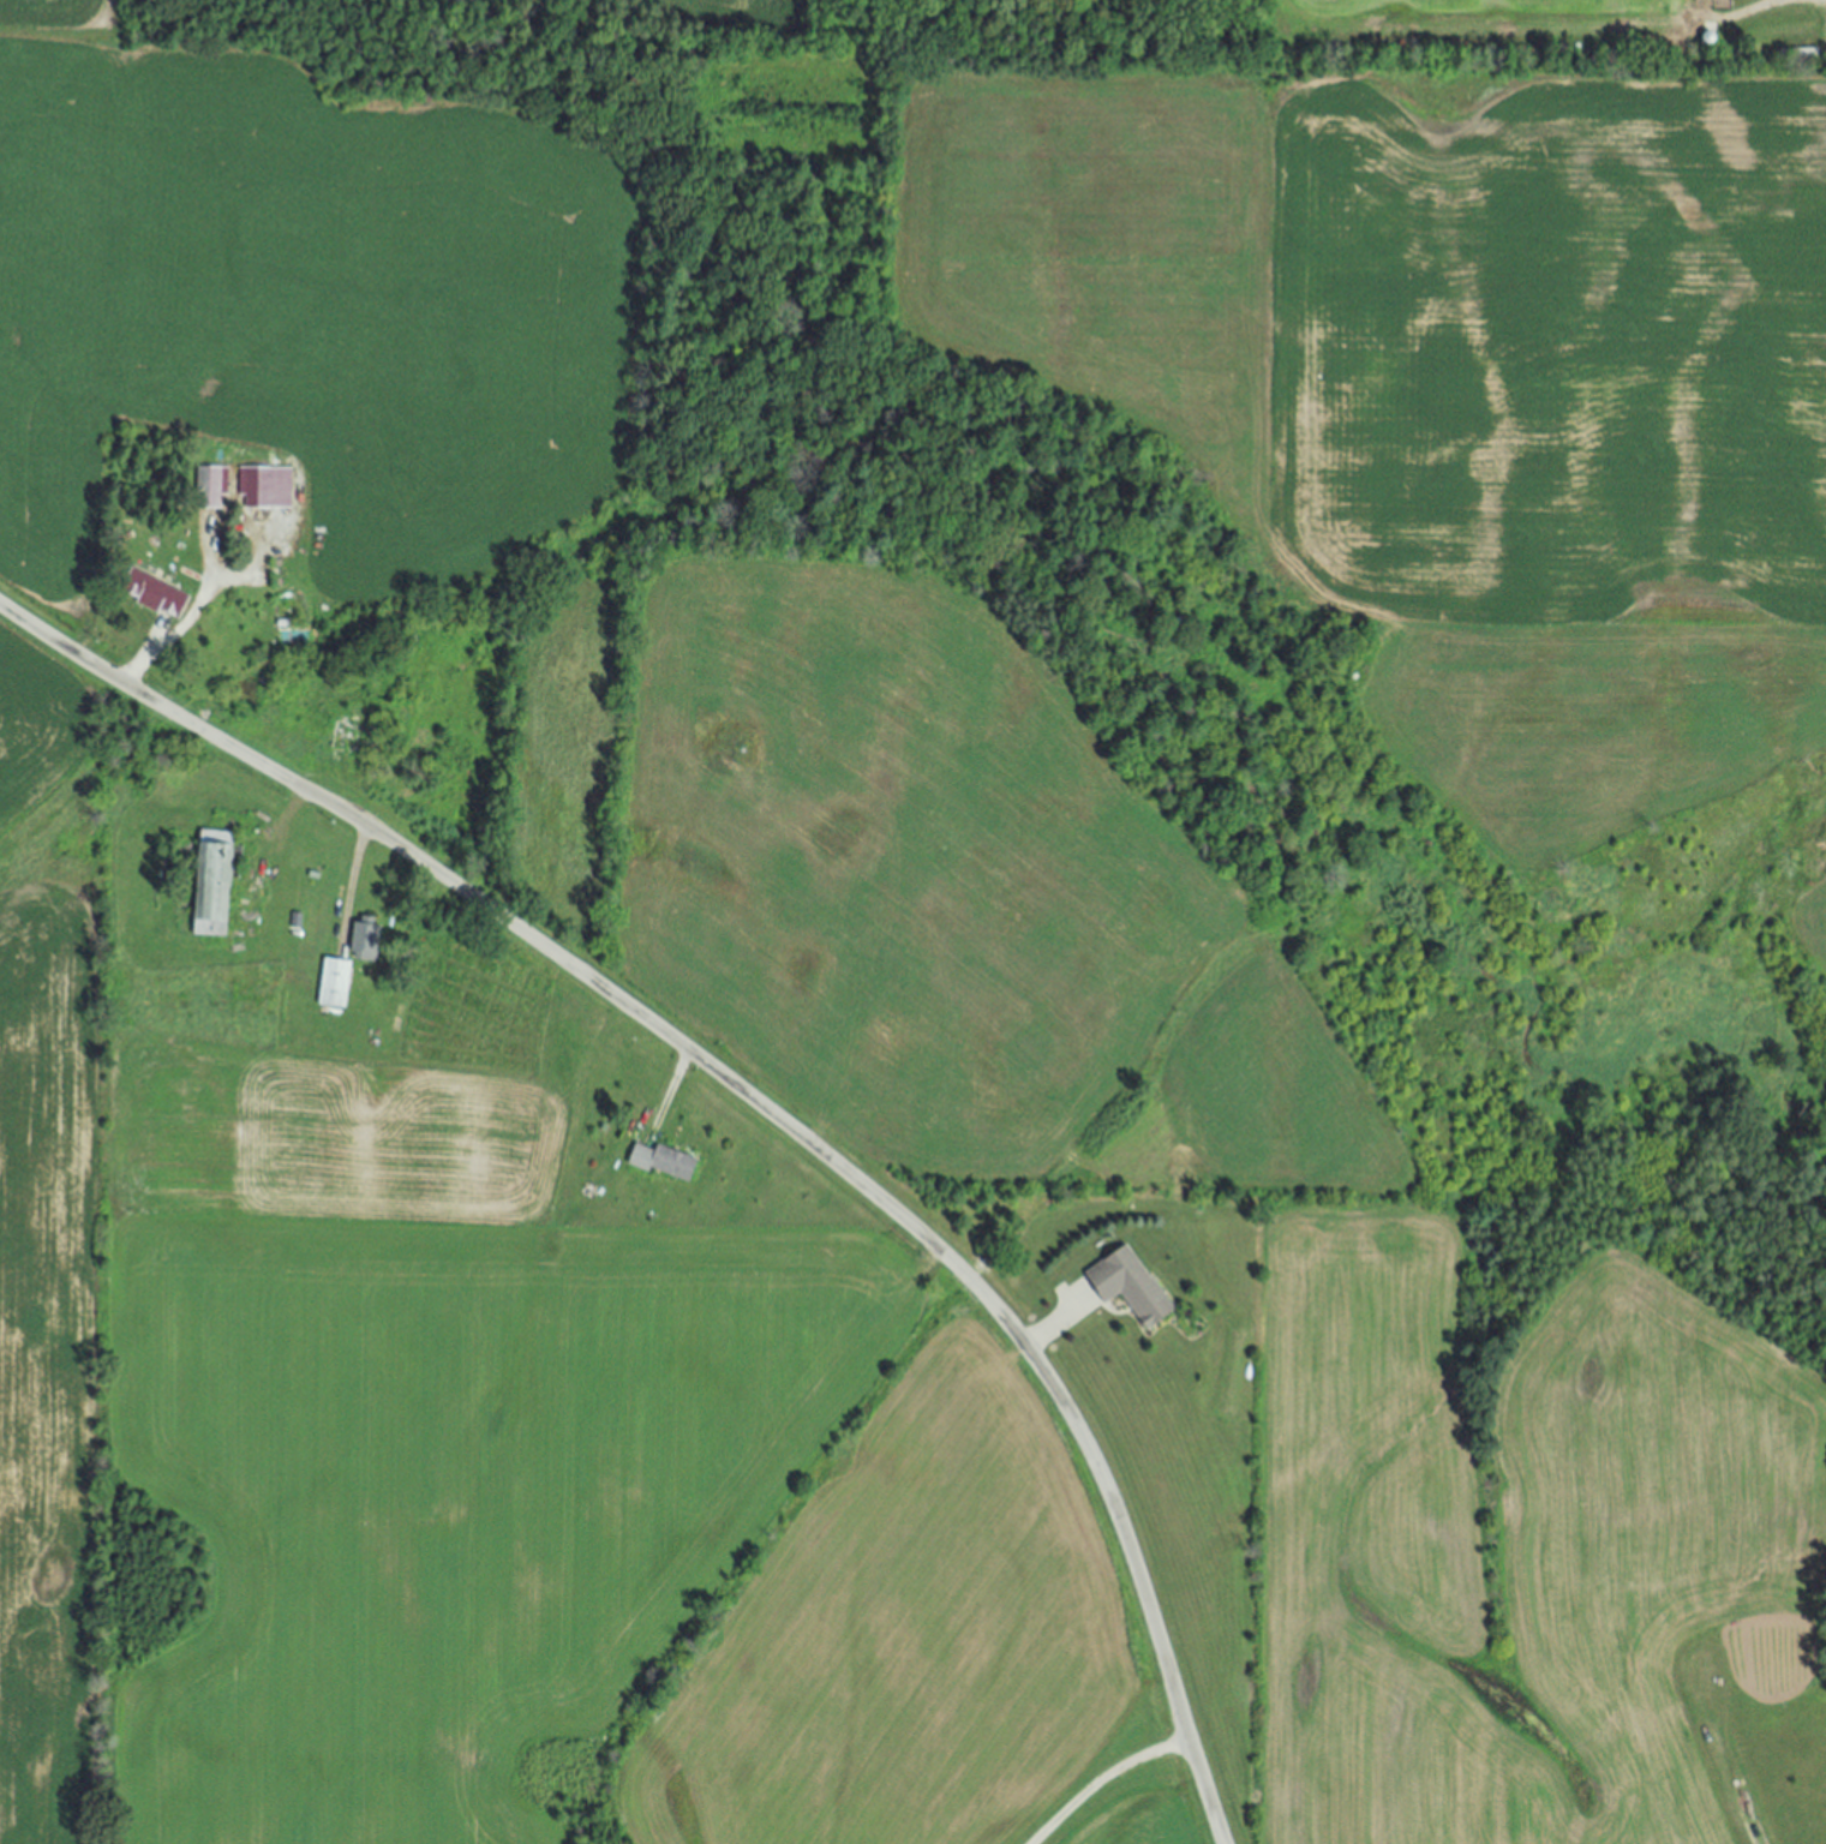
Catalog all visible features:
building: (208, 489)
building: (257, 490)
building: (155, 597)
road: (143, 664)
building: (351, 738)
road: (349, 885)
building: (212, 886)
building: (365, 941)
building: (334, 984)
road: (670, 1089)
road: (754, 1102)
building: (663, 1163)
building: (1131, 1287)
road: (1052, 1325)
road: (1103, 1777)

